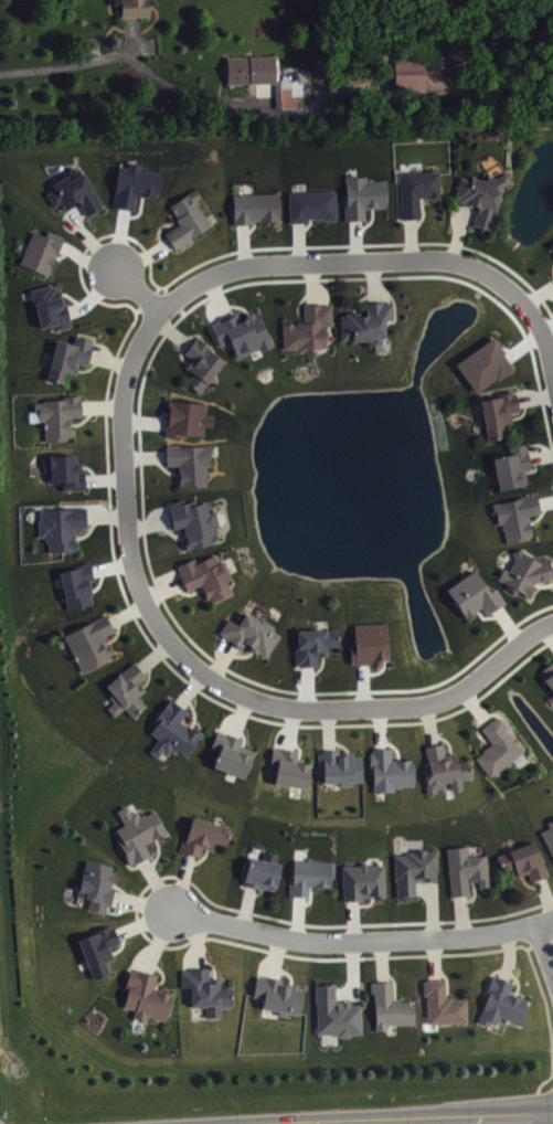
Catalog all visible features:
building: (134, 7)
road: (82, 61)
building: (417, 67)
building: (260, 75)
road: (187, 91)
building: (137, 187)
building: (416, 189)
building: (73, 191)
building: (362, 194)
building: (480, 194)
building: (315, 208)
road: (71, 209)
building: (259, 210)
road: (464, 210)
road: (423, 214)
building: (185, 219)
road: (368, 221)
road: (160, 226)
road: (458, 232)
road: (88, 236)
road: (411, 237)
road: (354, 240)
road: (414, 242)
road: (86, 247)
building: (40, 250)
road: (62, 254)
road: (141, 255)
road: (85, 258)
road: (320, 262)
road: (170, 280)
road: (373, 280)
road: (248, 282)
road: (311, 283)
road: (138, 287)
road: (216, 295)
road: (360, 298)
road: (298, 304)
road: (235, 305)
building: (54, 310)
road: (532, 315)
building: (365, 321)
building: (307, 327)
road: (171, 330)
building: (240, 332)
road: (180, 350)
building: (67, 357)
road: (108, 359)
building: (200, 362)
road: (89, 367)
building: (488, 367)
road: (108, 380)
road: (534, 395)
road: (100, 405)
road: (522, 411)
building: (498, 412)
building: (57, 414)
road: (545, 416)
road: (84, 417)
building: (191, 421)
building: (193, 466)
building: (515, 469)
building: (71, 474)
road: (544, 500)
road: (540, 512)
road: (105, 515)
building: (515, 515)
building: (192, 520)
road: (148, 522)
road: (109, 523)
building: (60, 526)
road: (88, 529)
road: (169, 530)
road: (552, 565)
building: (524, 571)
building: (205, 575)
road: (543, 584)
building: (81, 588)
road: (162, 590)
road: (185, 593)
building: (474, 593)
road: (126, 612)
road: (487, 616)
road: (508, 624)
road: (514, 625)
road: (117, 630)
road: (550, 630)
building: (249, 633)
building: (89, 641)
road: (195, 643)
building: (312, 644)
building: (373, 647)
road: (155, 654)
road: (240, 655)
road: (221, 659)
road: (198, 668)
road: (318, 668)
building: (549, 672)
road: (148, 674)
road: (182, 676)
road: (307, 686)
road: (190, 688)
building: (126, 689)
road: (475, 704)
road: (193, 710)
road: (241, 714)
road: (445, 714)
road: (428, 723)
road: (380, 727)
road: (328, 729)
building: (172, 730)
road: (478, 731)
road: (243, 734)
road: (445, 739)
road: (340, 743)
road: (393, 745)
building: (498, 745)
building: (230, 752)
building: (339, 766)
building: (443, 768)
building: (390, 770)
building: (293, 771)
building: (137, 831)
building: (202, 835)
building: (549, 835)
road: (157, 853)
road: (199, 858)
building: (523, 860)
building: (413, 869)
building: (465, 869)
building: (260, 872)
building: (309, 874)
building: (361, 880)
road: (181, 882)
building: (95, 883)
road: (418, 883)
road: (529, 883)
road: (157, 884)
road: (119, 887)
road: (256, 892)
road: (472, 894)
road: (546, 894)
road: (309, 898)
road: (141, 902)
road: (364, 903)
road: (230, 905)
road: (245, 905)
road: (432, 905)
road: (461, 914)
road: (298, 916)
road: (142, 920)
road: (352, 920)
road: (538, 937)
road: (362, 940)
road: (158, 941)
road: (199, 941)
road: (121, 943)
building: (97, 947)
road: (543, 950)
road: (445, 953)
road: (509, 954)
road: (276, 955)
road: (434, 957)
road: (381, 959)
road: (211, 964)
road: (286, 971)
road: (161, 973)
road: (445, 977)
road: (517, 979)
road: (393, 980)
building: (205, 989)
building: (277, 994)
building: (145, 995)
building: (442, 1003)
building: (501, 1003)
building: (389, 1005)
building: (339, 1016)
road: (550, 1031)
road: (414, 1118)

